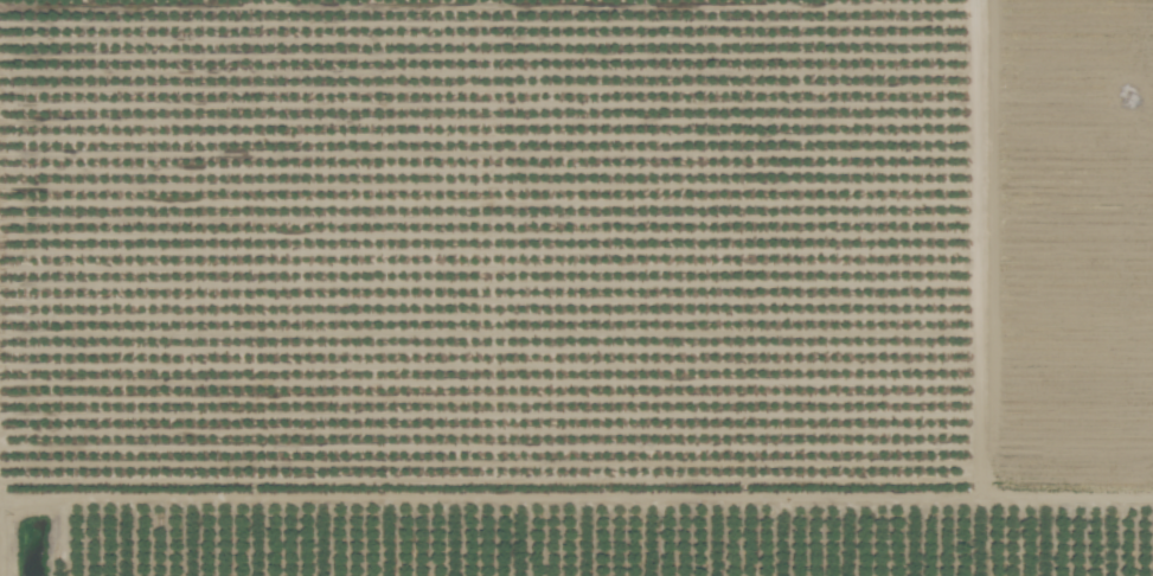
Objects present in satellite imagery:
crop: (576, 288)
road: (739, 497)
road: (1068, 498)

